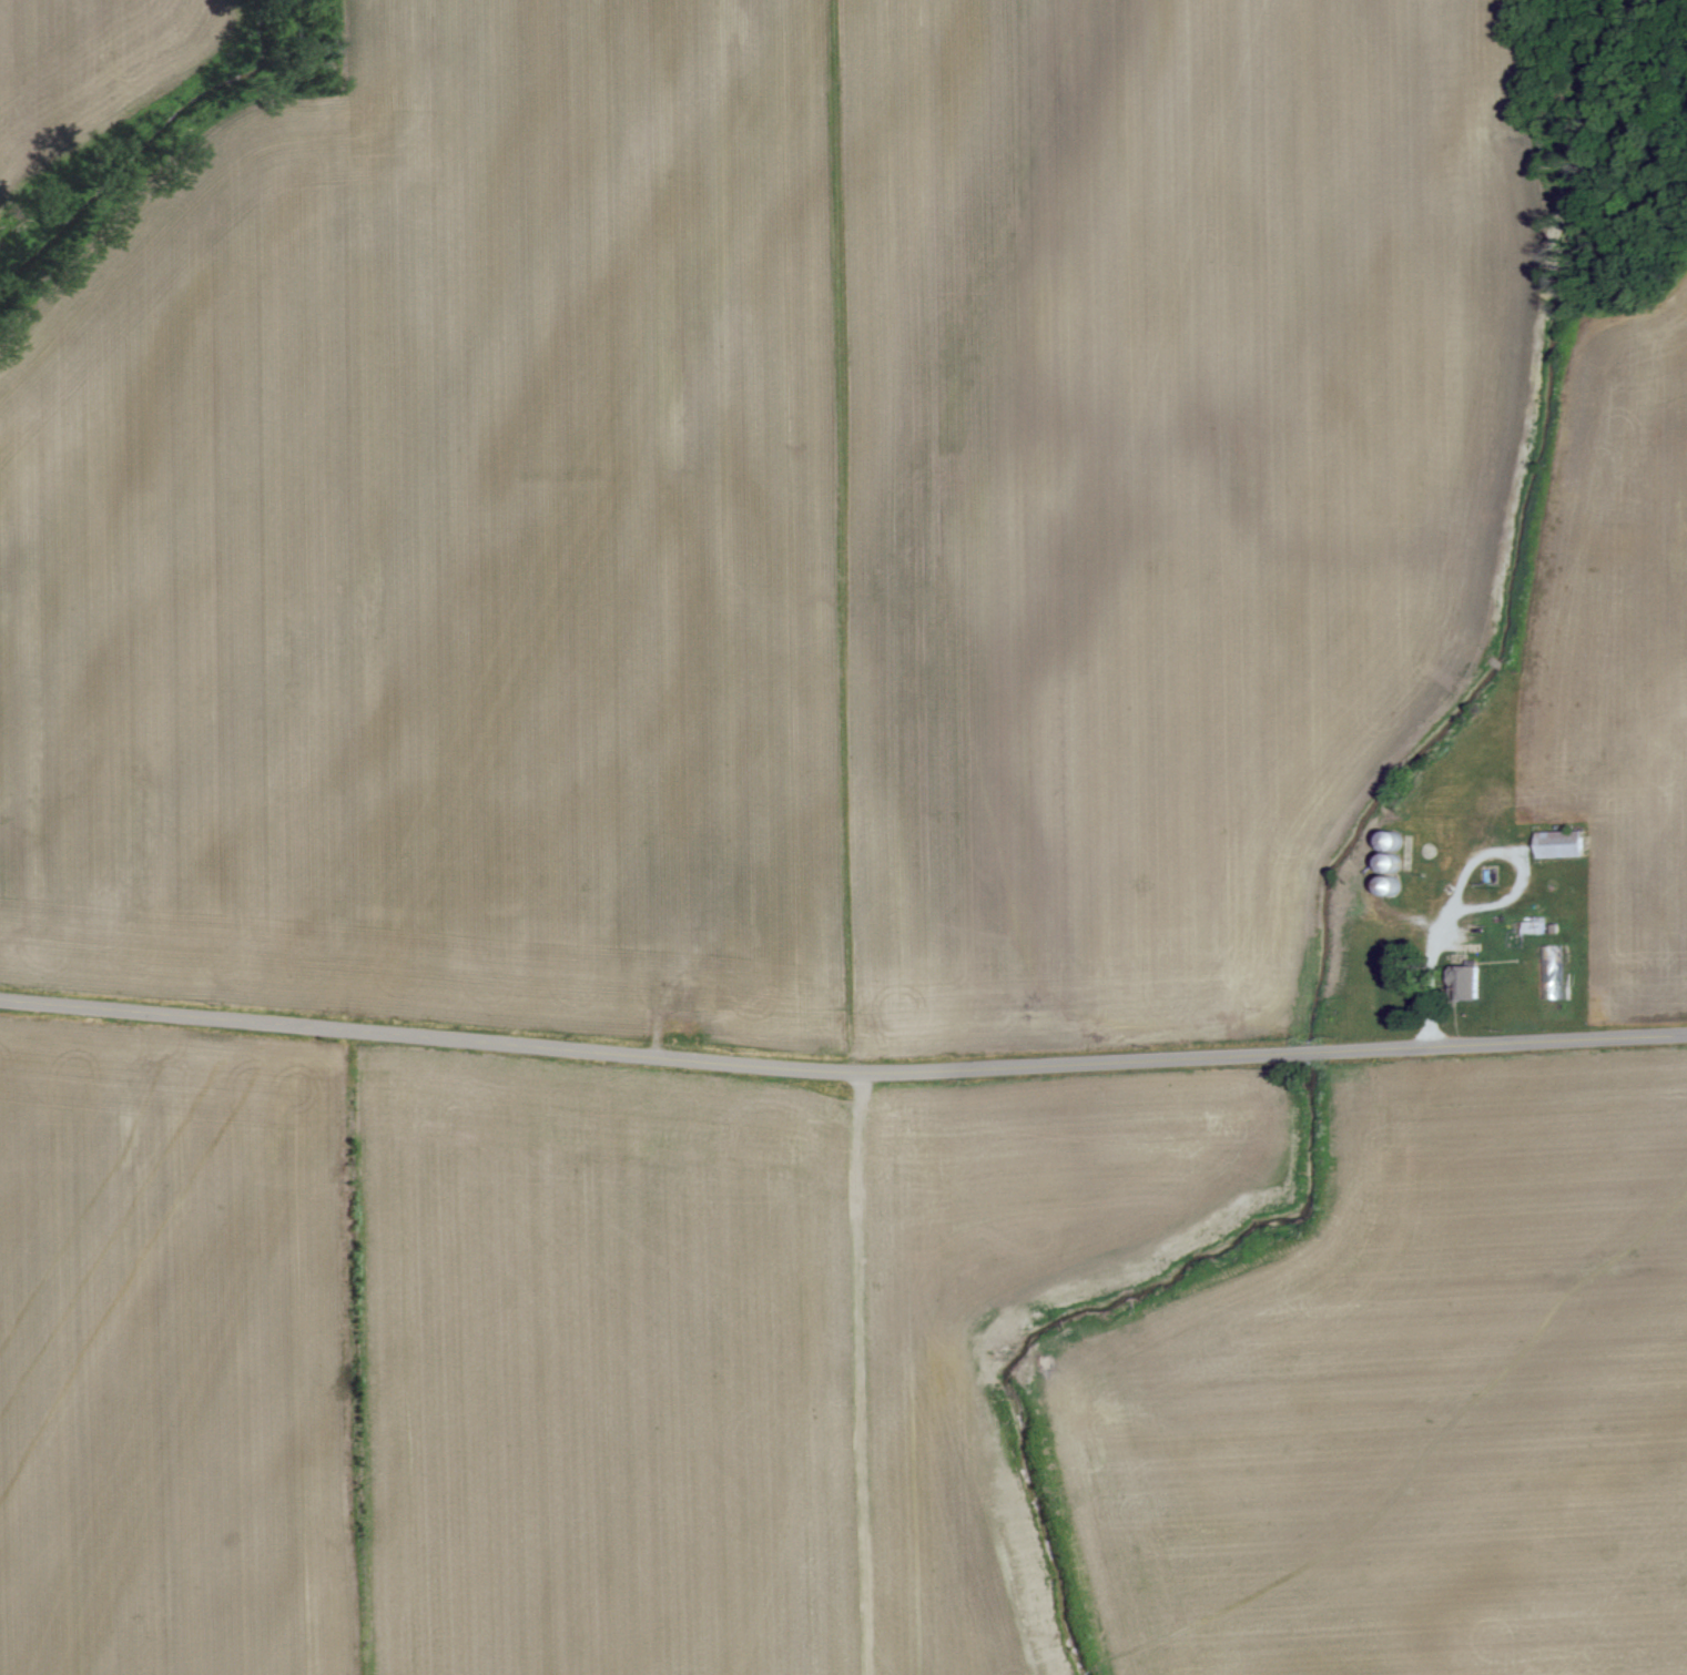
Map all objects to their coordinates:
building: (1559, 843)
road: (1463, 876)
building: (1537, 924)
building: (1464, 981)
road: (842, 1069)

